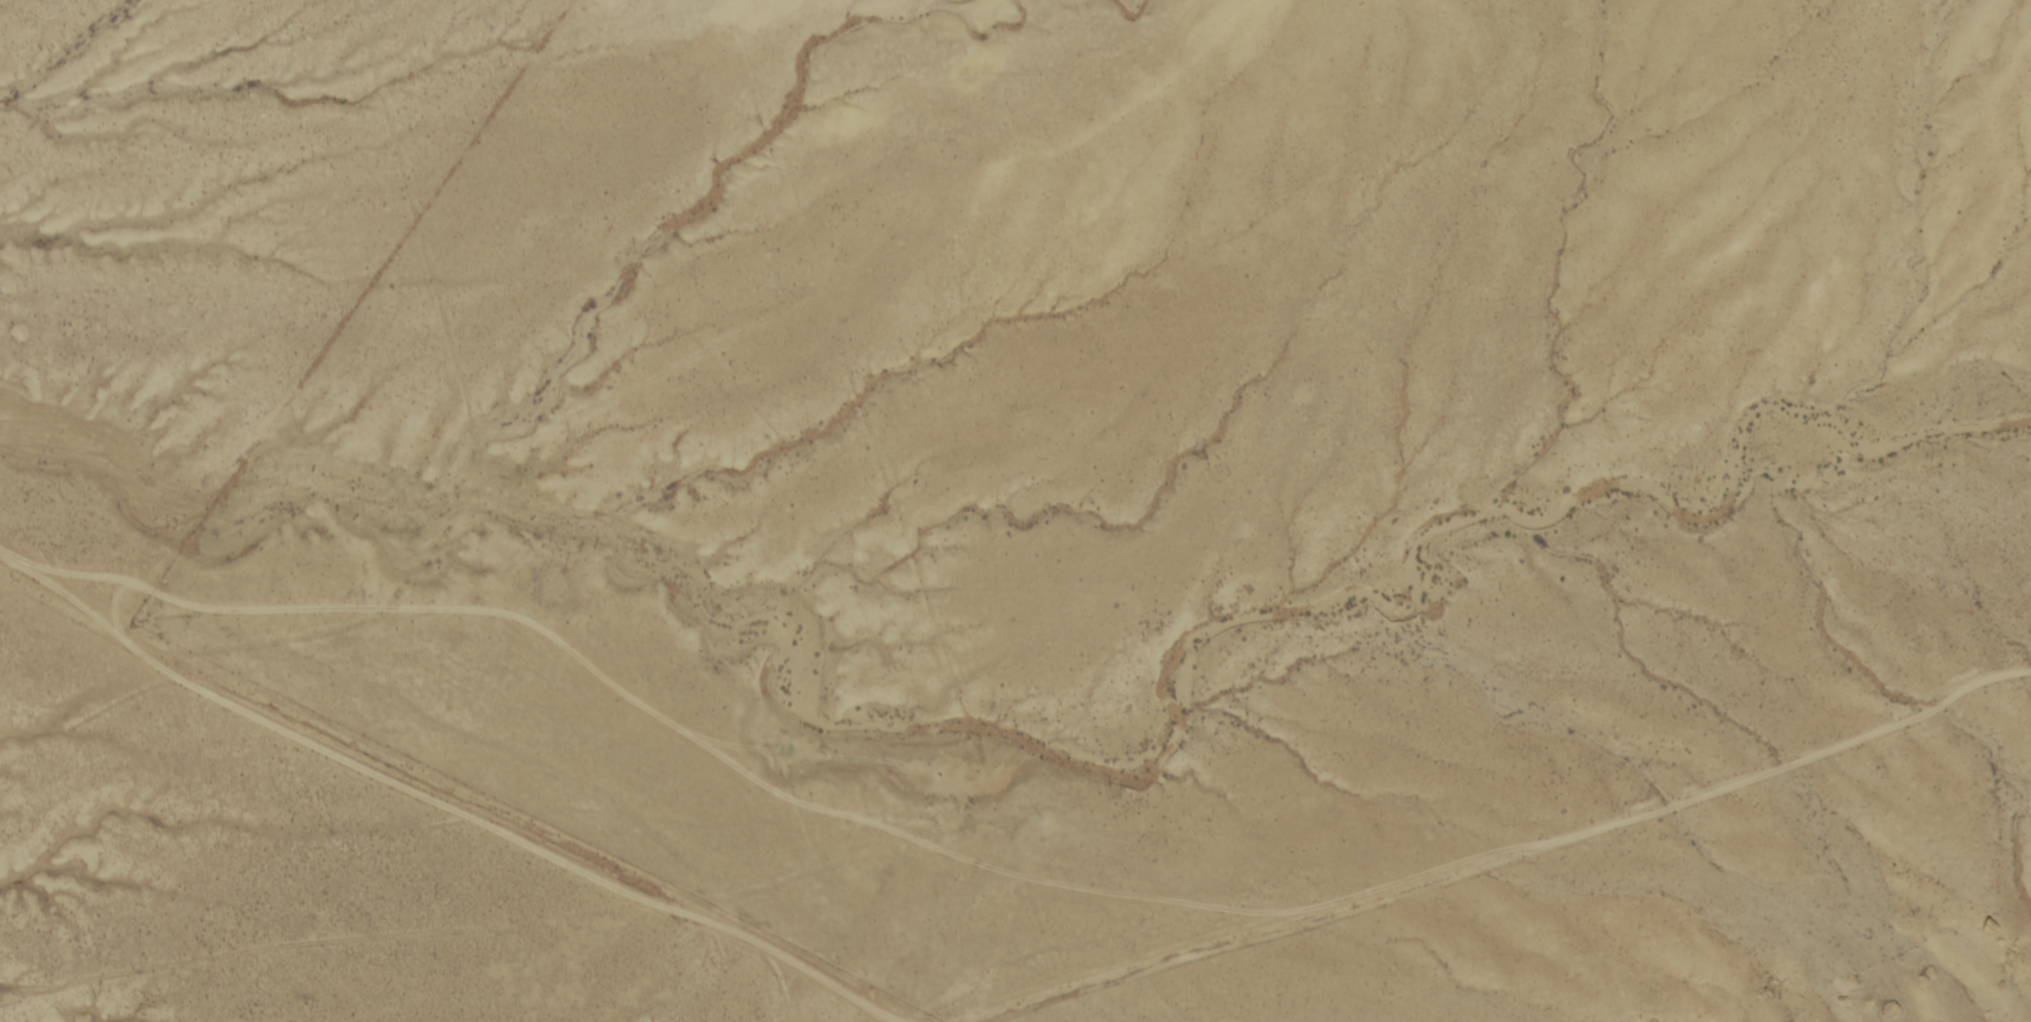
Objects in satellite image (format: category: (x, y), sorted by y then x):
road: (453, 790)
road: (1535, 872)

